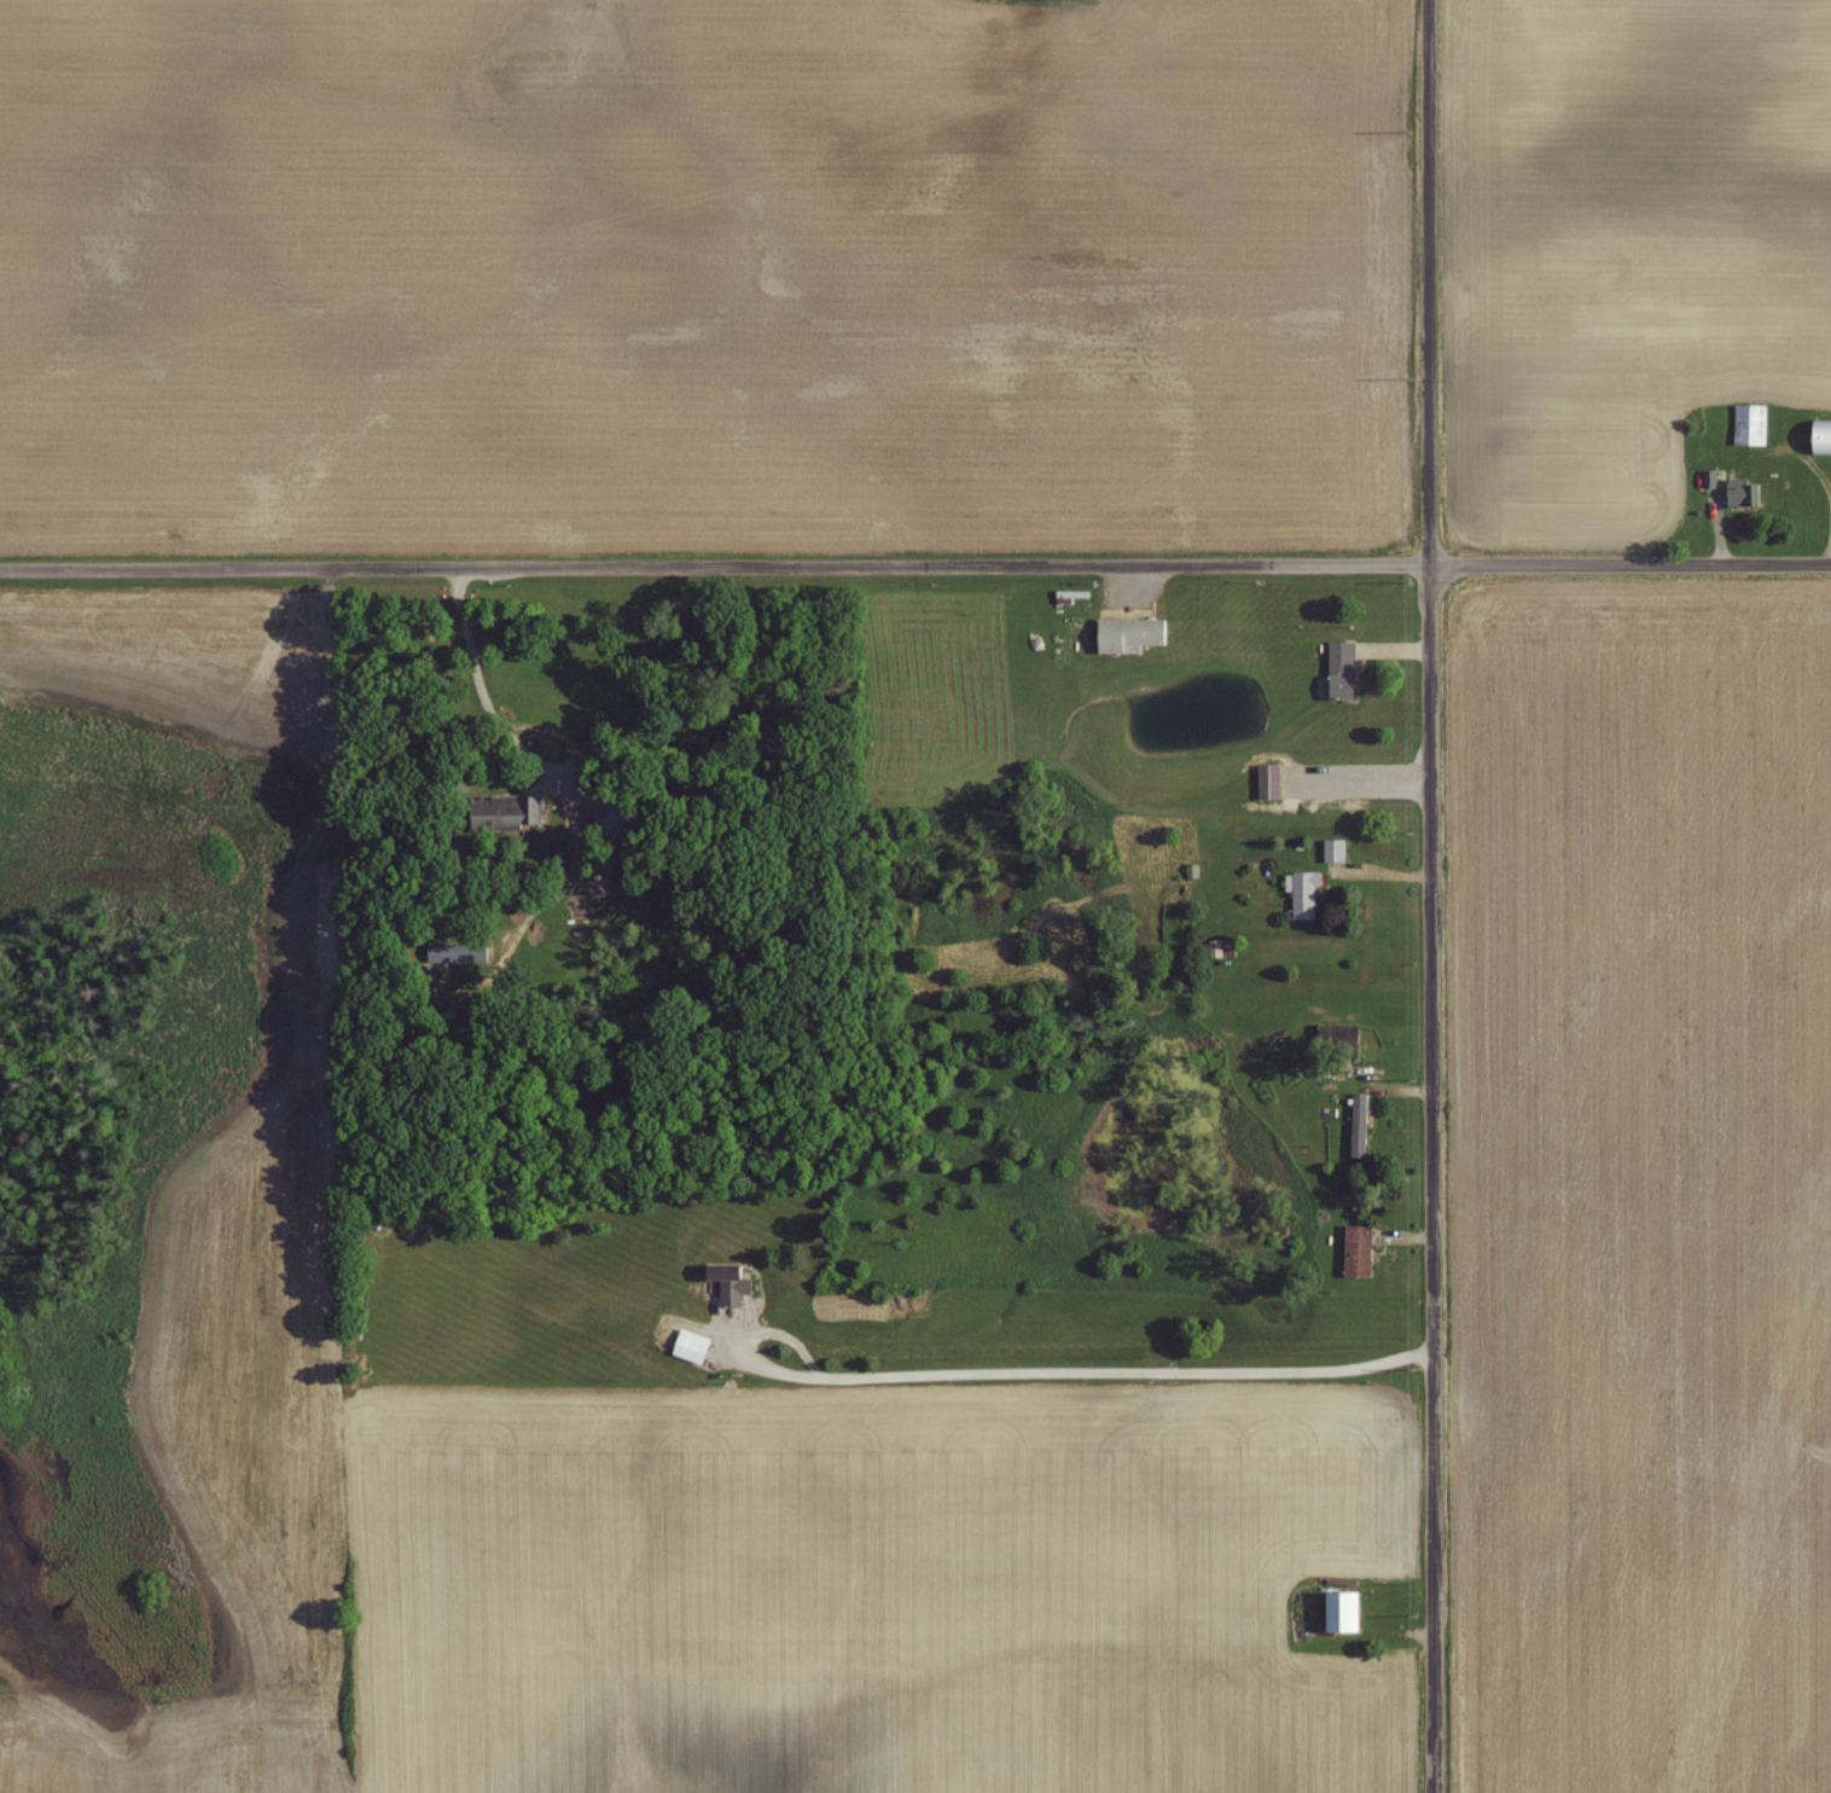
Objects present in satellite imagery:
crop: (751, 10)
crop: (1627, 248)
crop: (698, 285)
road: (915, 568)
road: (1429, 896)
crop: (1645, 1193)
road: (1076, 1374)
crop: (232, 1473)
crop: (867, 1592)

